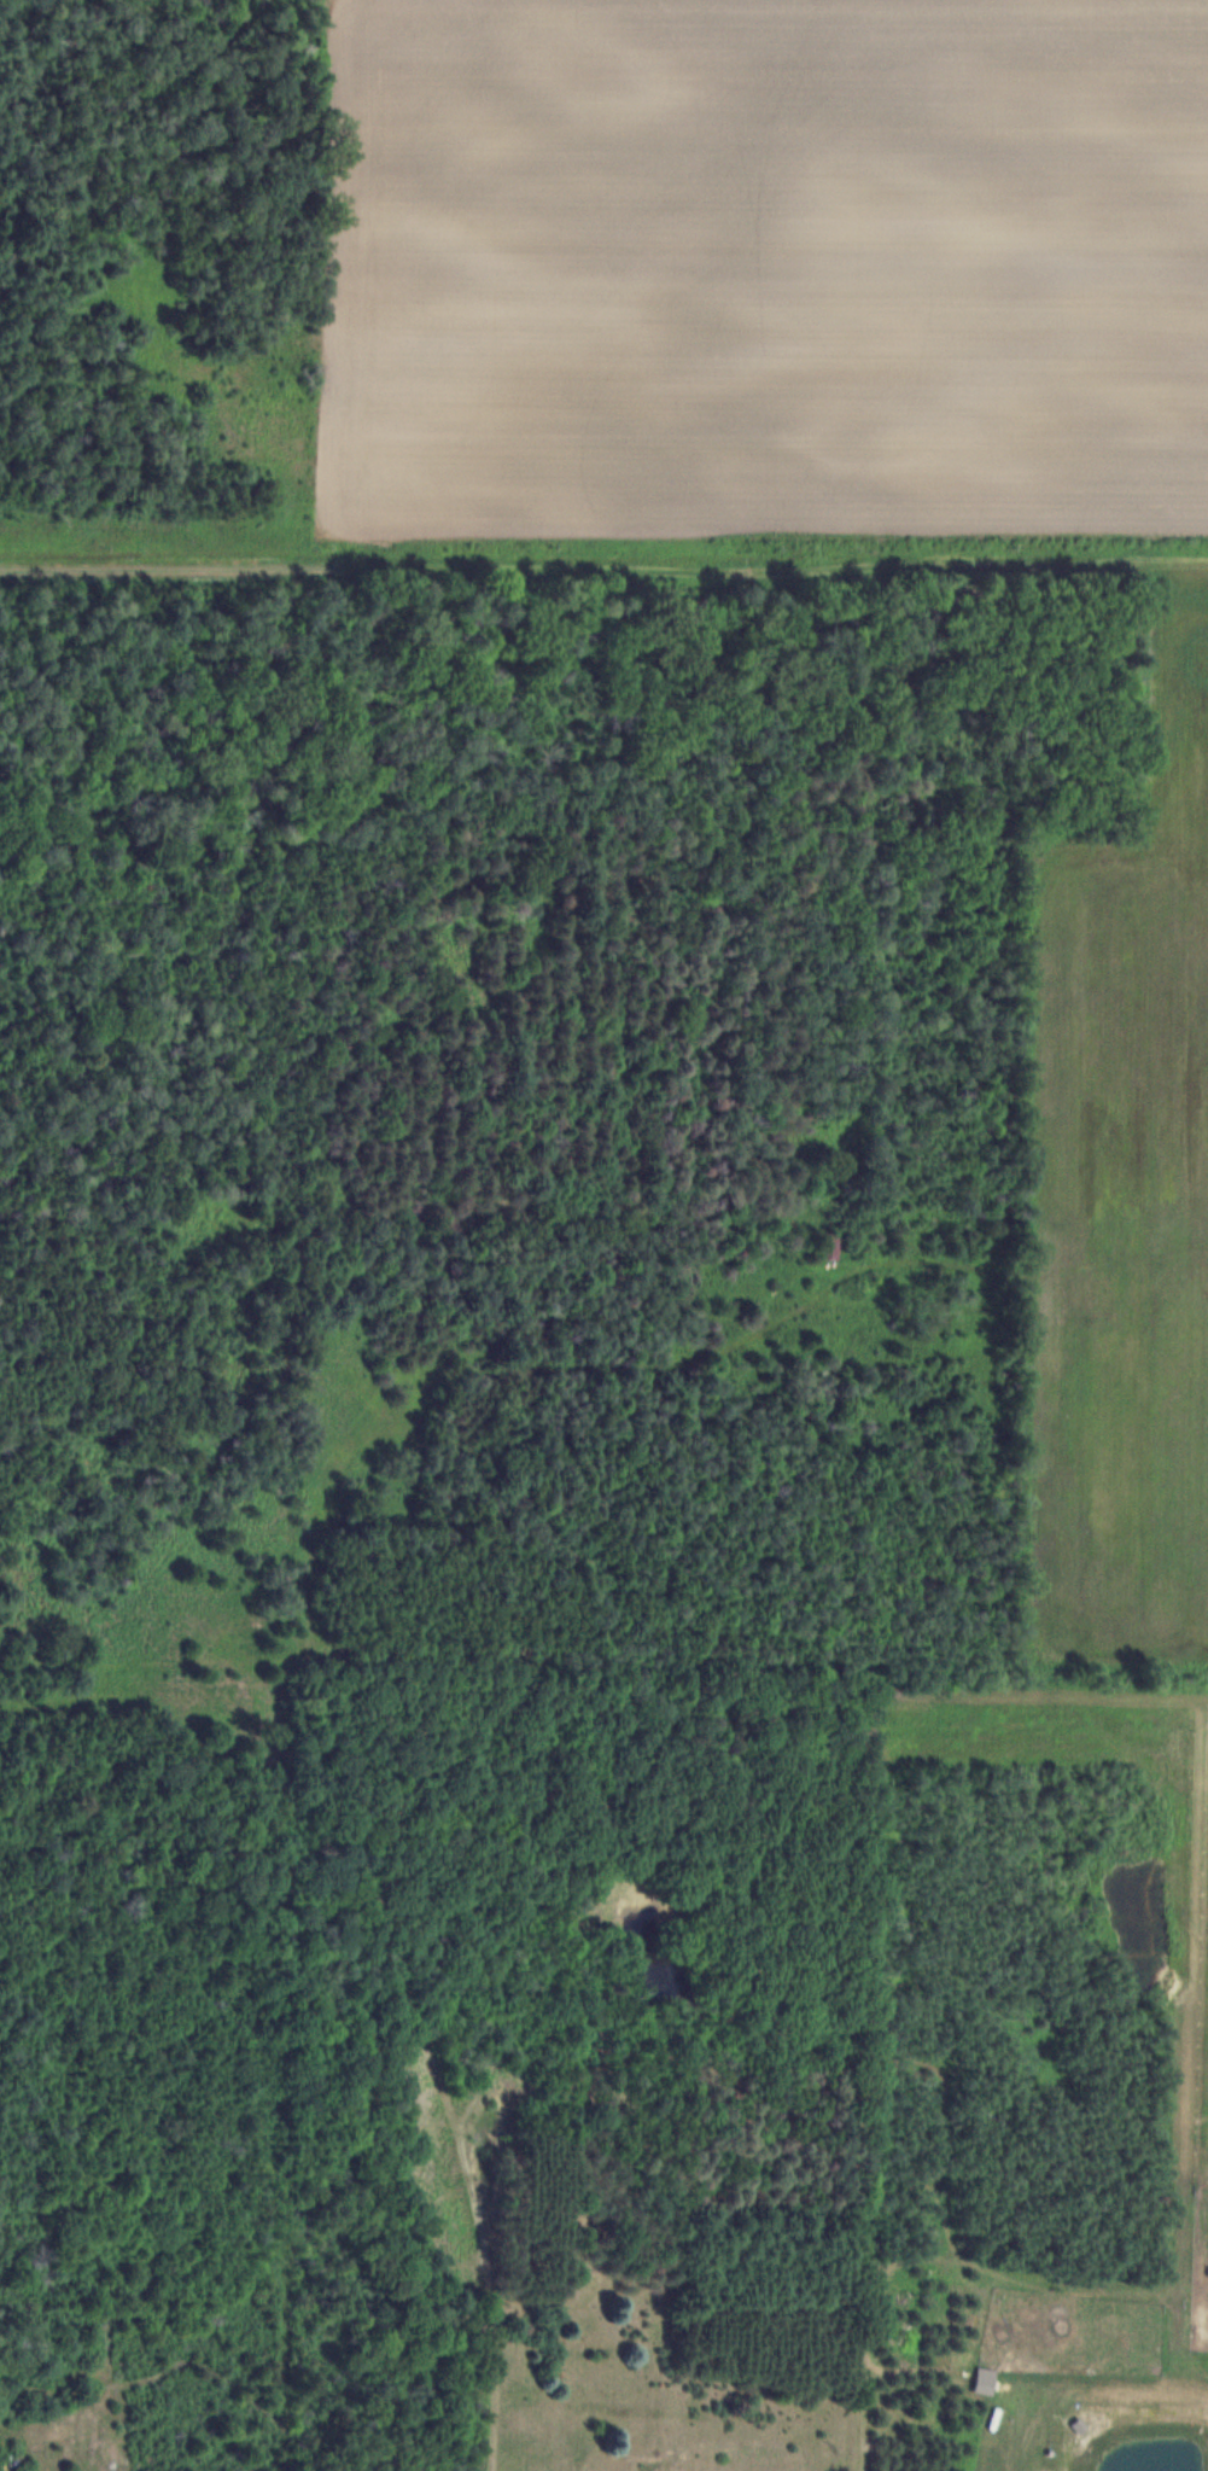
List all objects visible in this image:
building: (829, 1246)

